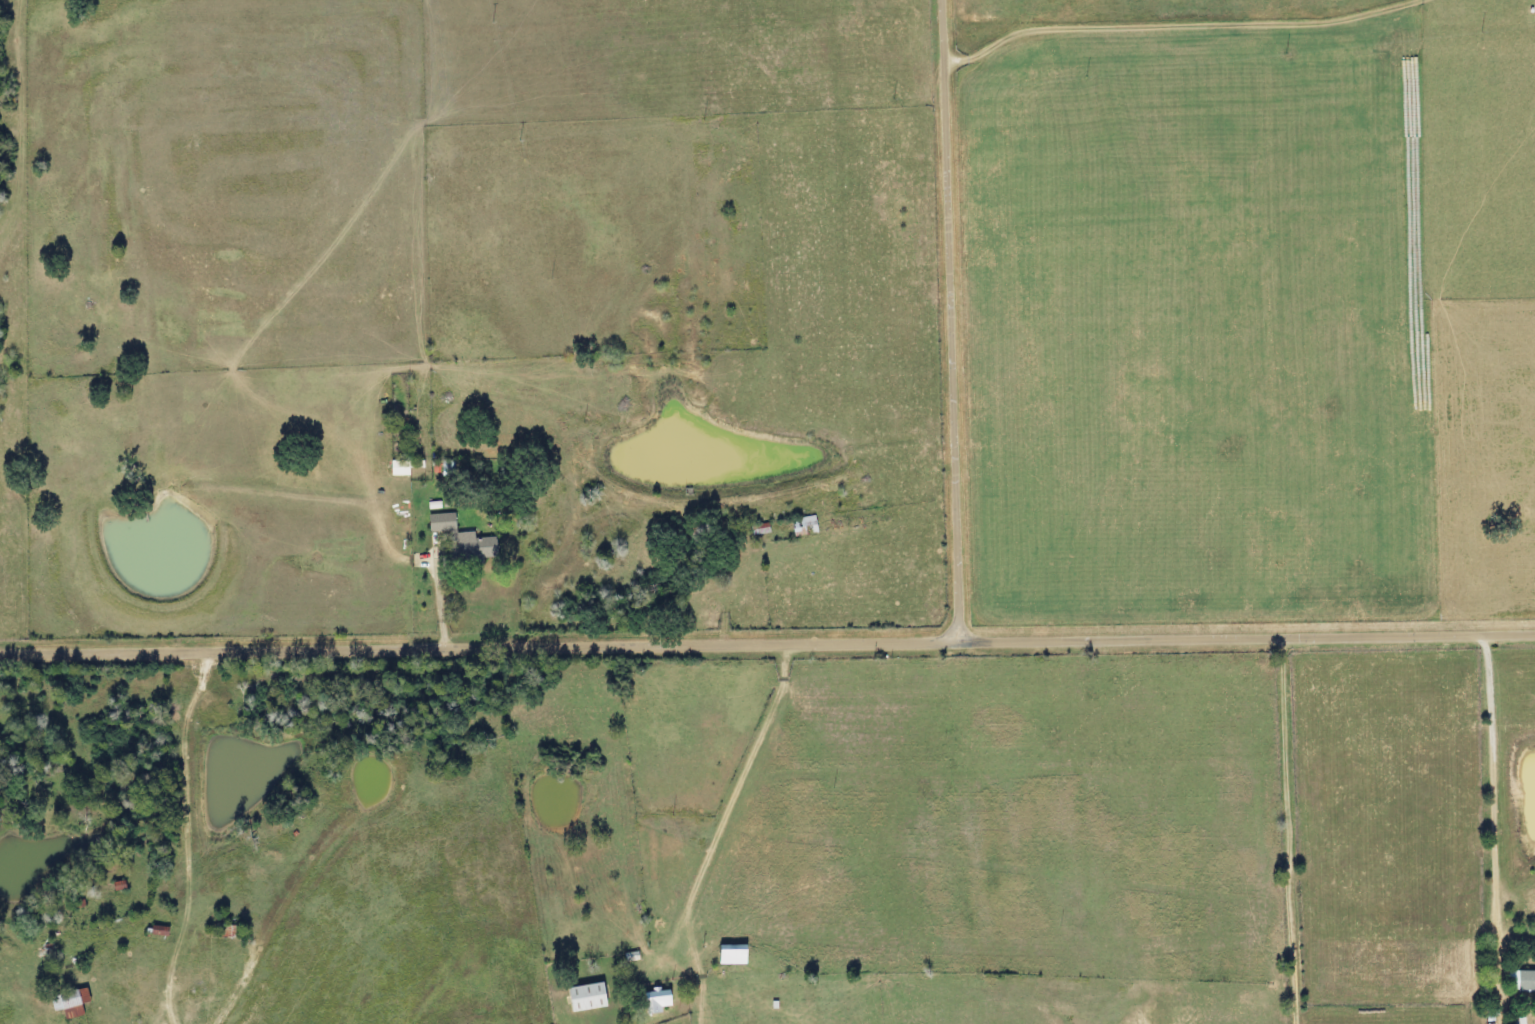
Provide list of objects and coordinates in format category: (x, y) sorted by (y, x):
road: (1171, 25)
road: (47, 164)
road: (952, 322)
building: (398, 467)
building: (442, 469)
building: (435, 523)
building: (800, 526)
building: (756, 529)
road: (134, 538)
building: (465, 547)
road: (1245, 637)
road: (478, 650)
road: (1487, 788)
road: (732, 810)
road: (1285, 830)
building: (725, 955)
building: (1518, 981)
building: (580, 998)
building: (651, 1002)
building: (66, 1003)

